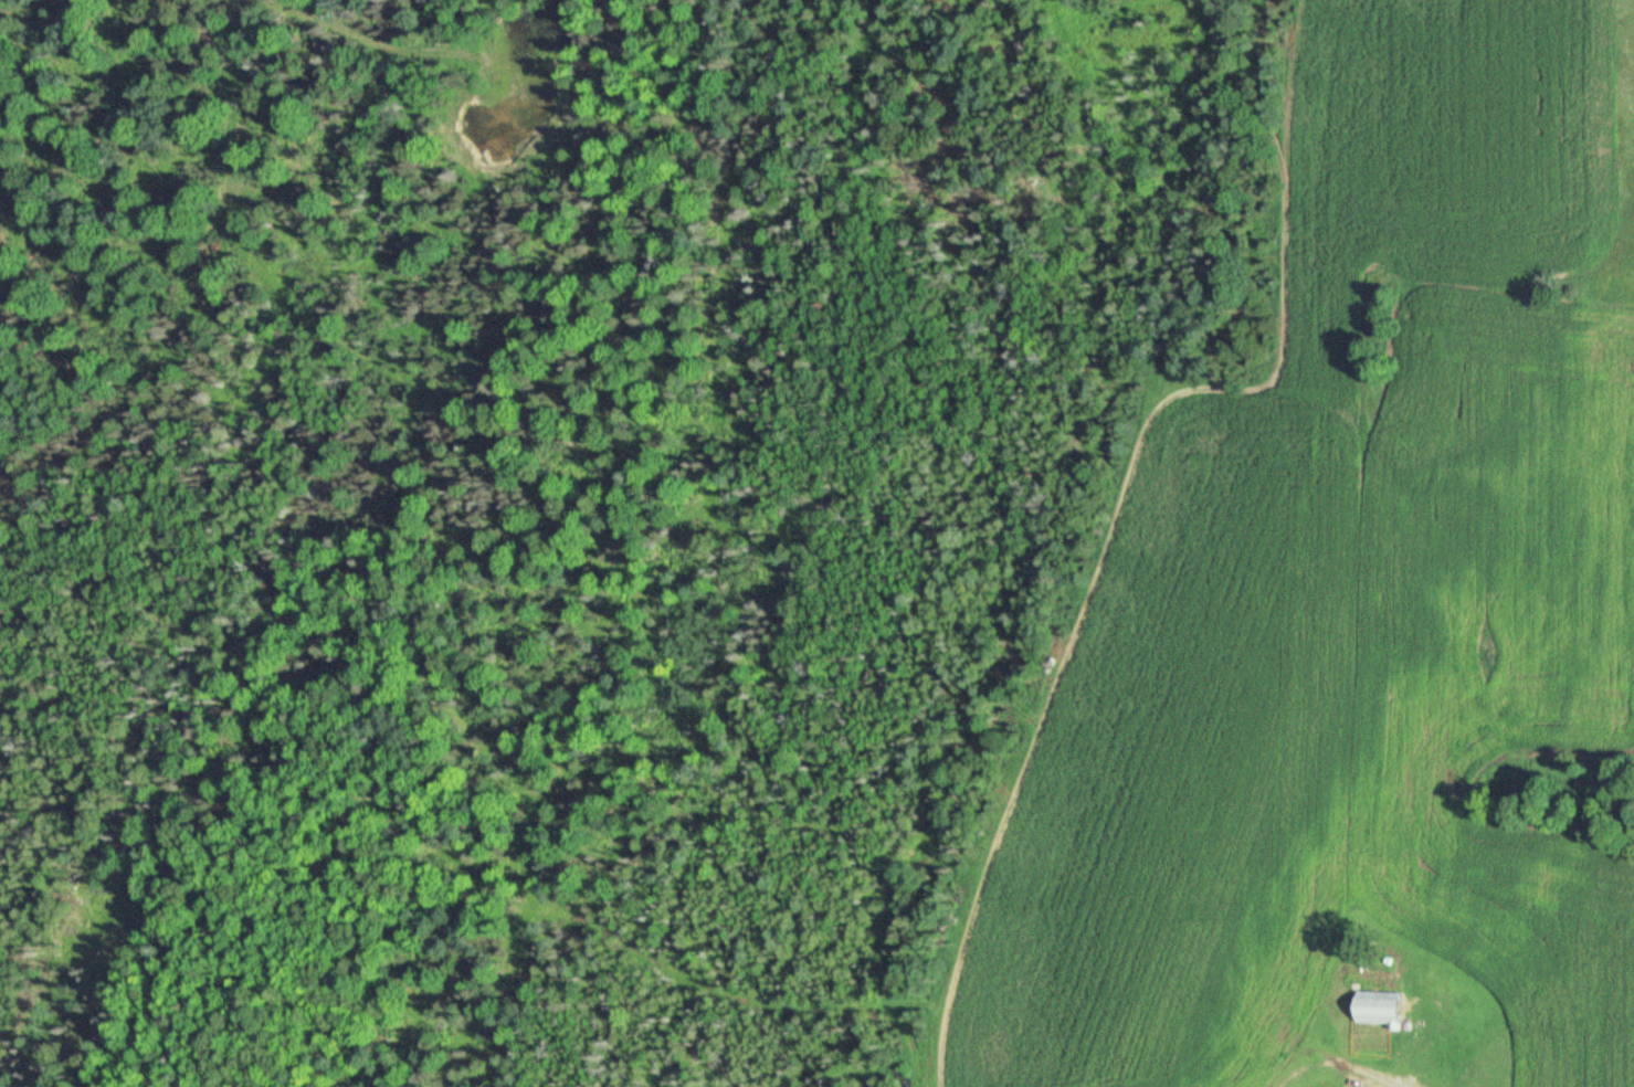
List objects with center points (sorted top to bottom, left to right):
building: (1380, 1010)

